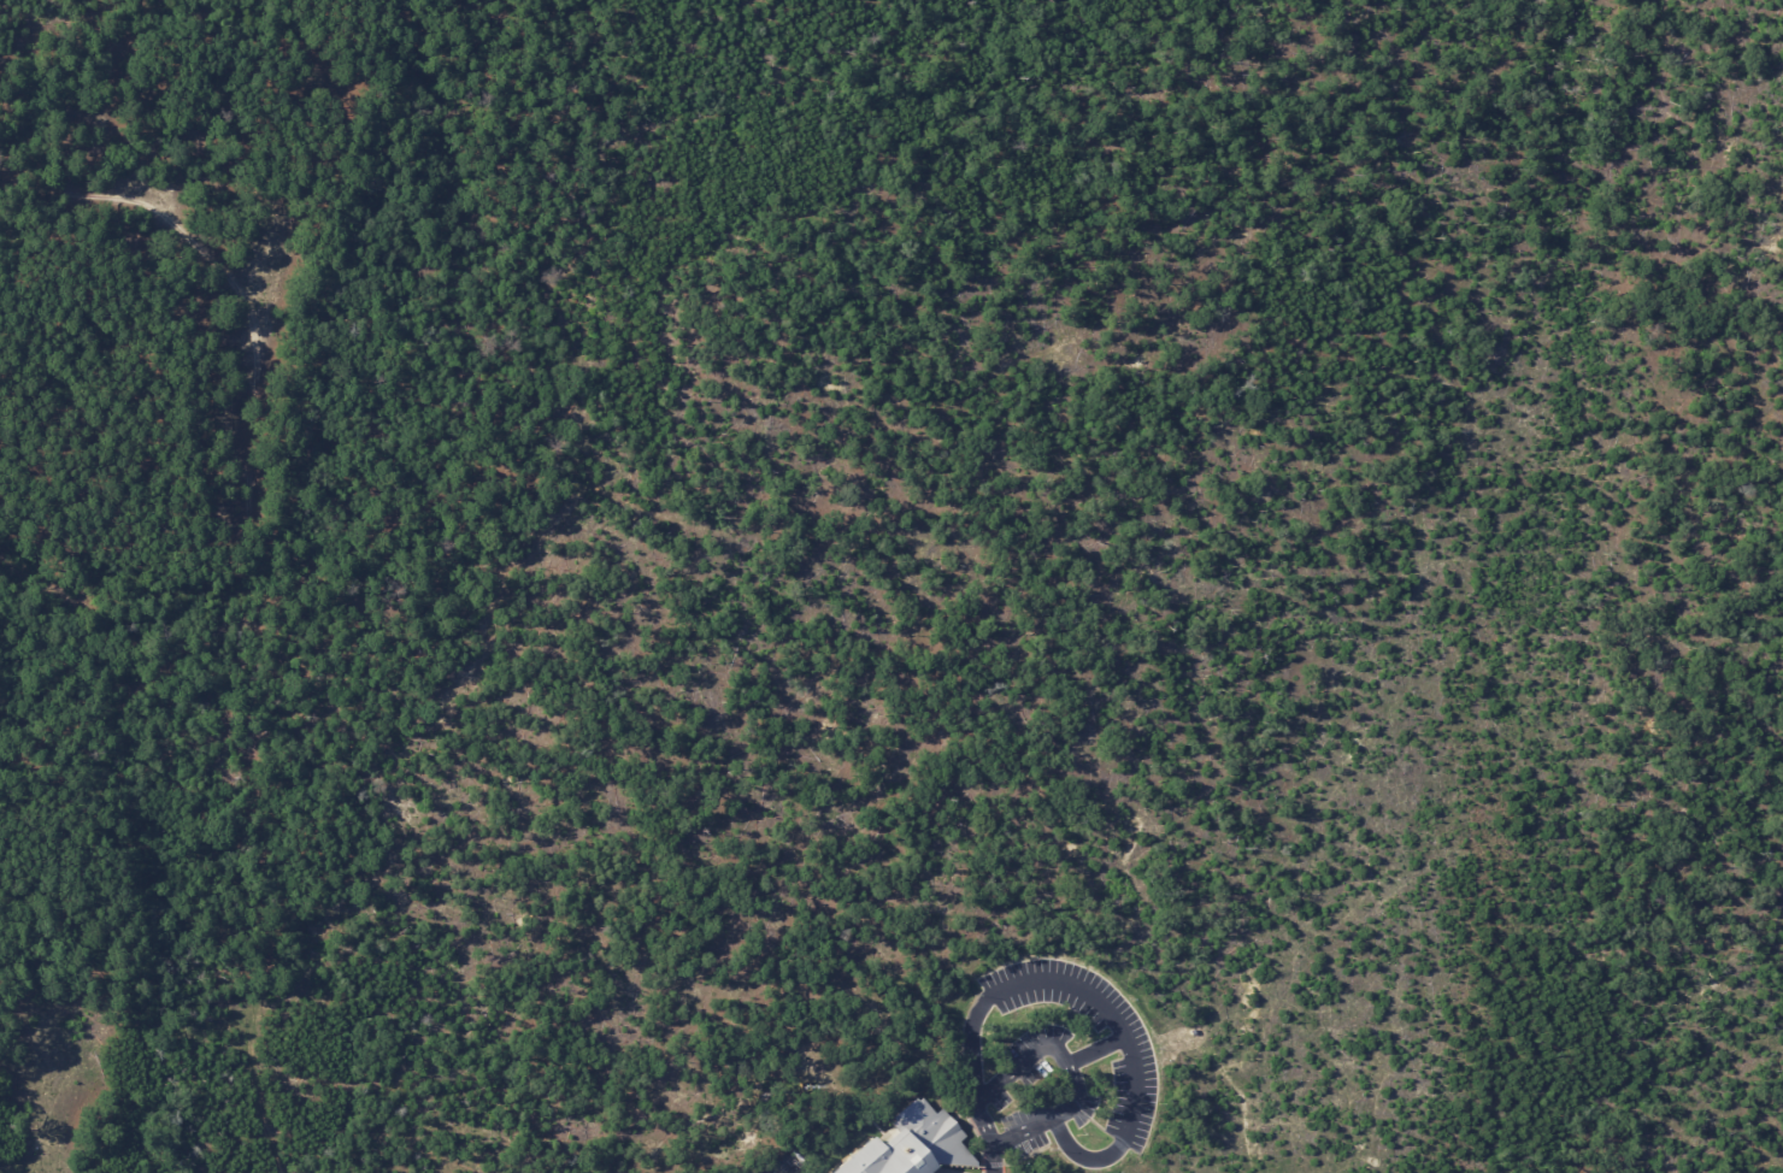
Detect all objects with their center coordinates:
road: (1096, 1063)
road: (1136, 1107)
building: (914, 1144)
road: (987, 1145)
road: (1023, 1147)

